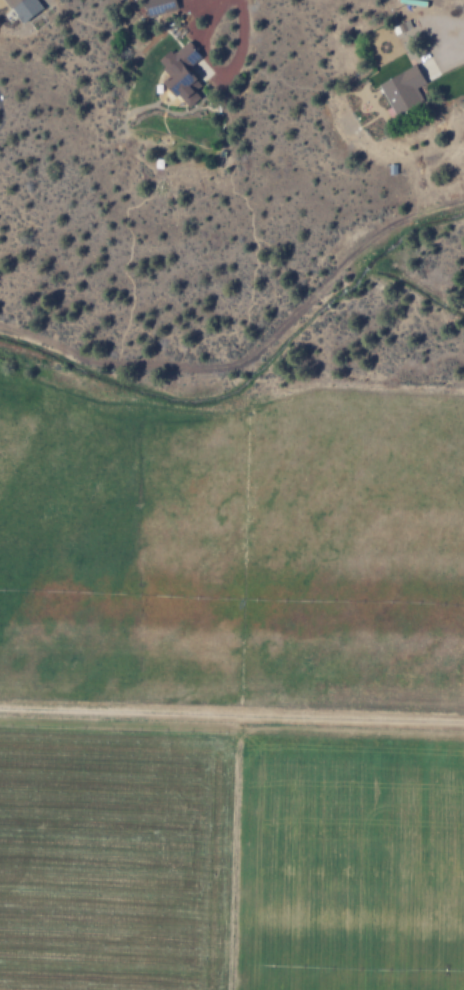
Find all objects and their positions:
building: (156, 6)
building: (20, 8)
building: (182, 72)
building: (400, 90)
crop: (231, 684)

